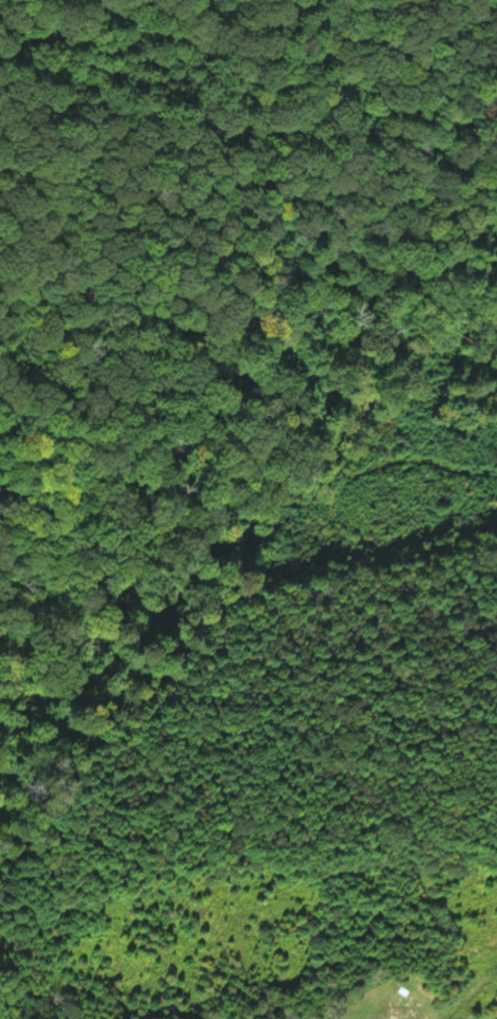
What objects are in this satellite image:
road: (224, 659)

